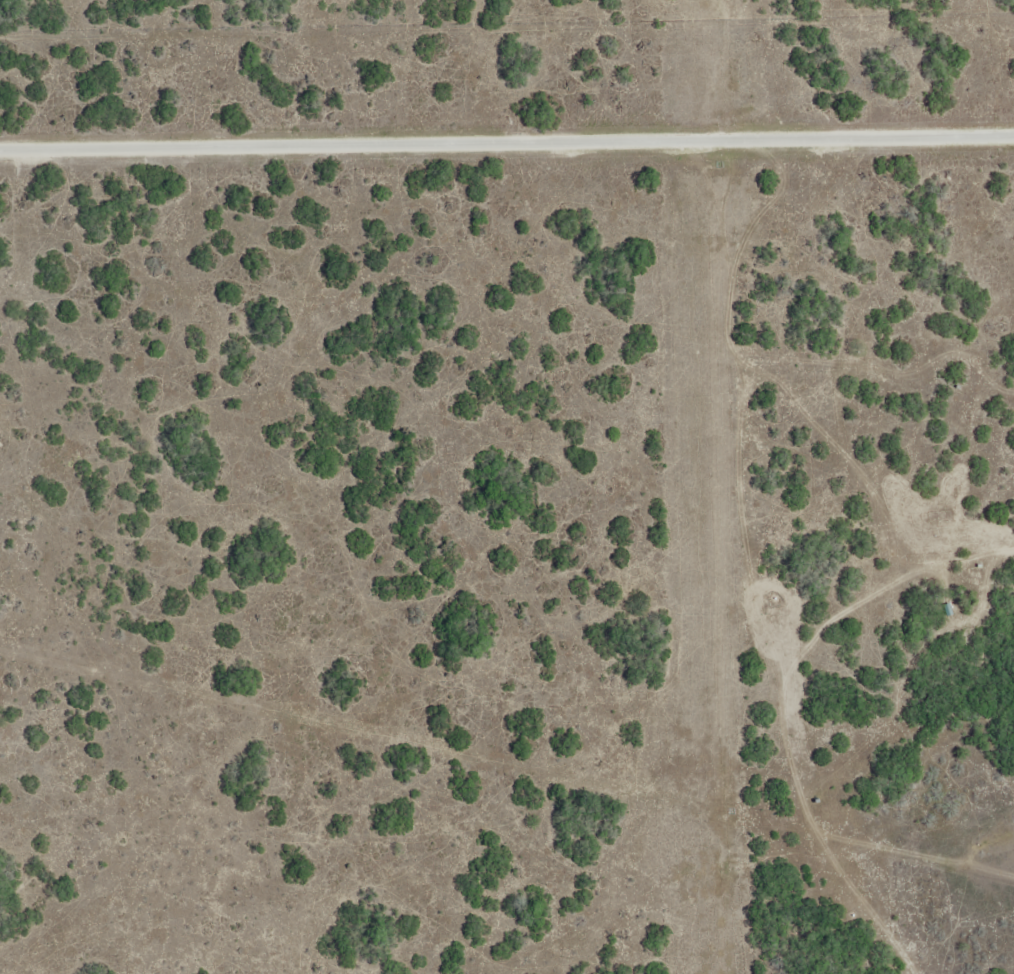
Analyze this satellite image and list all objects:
road: (507, 135)

